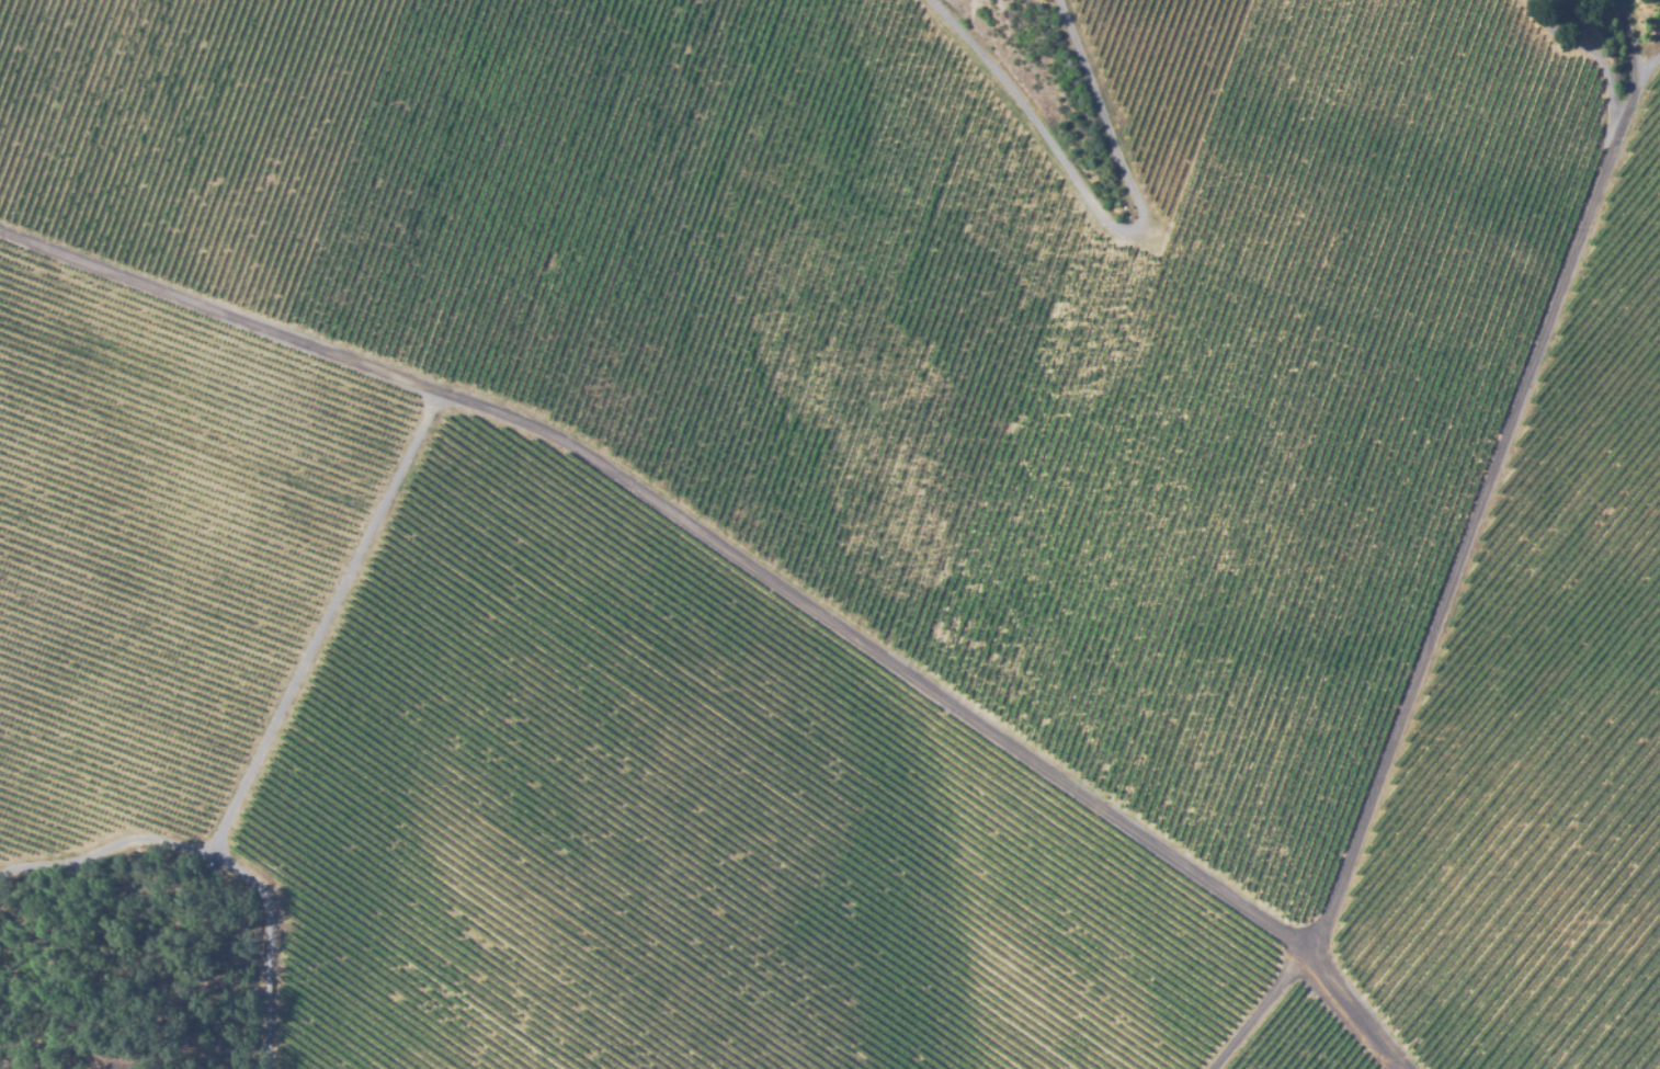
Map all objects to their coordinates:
road: (1619, 57)
road: (1093, 484)

